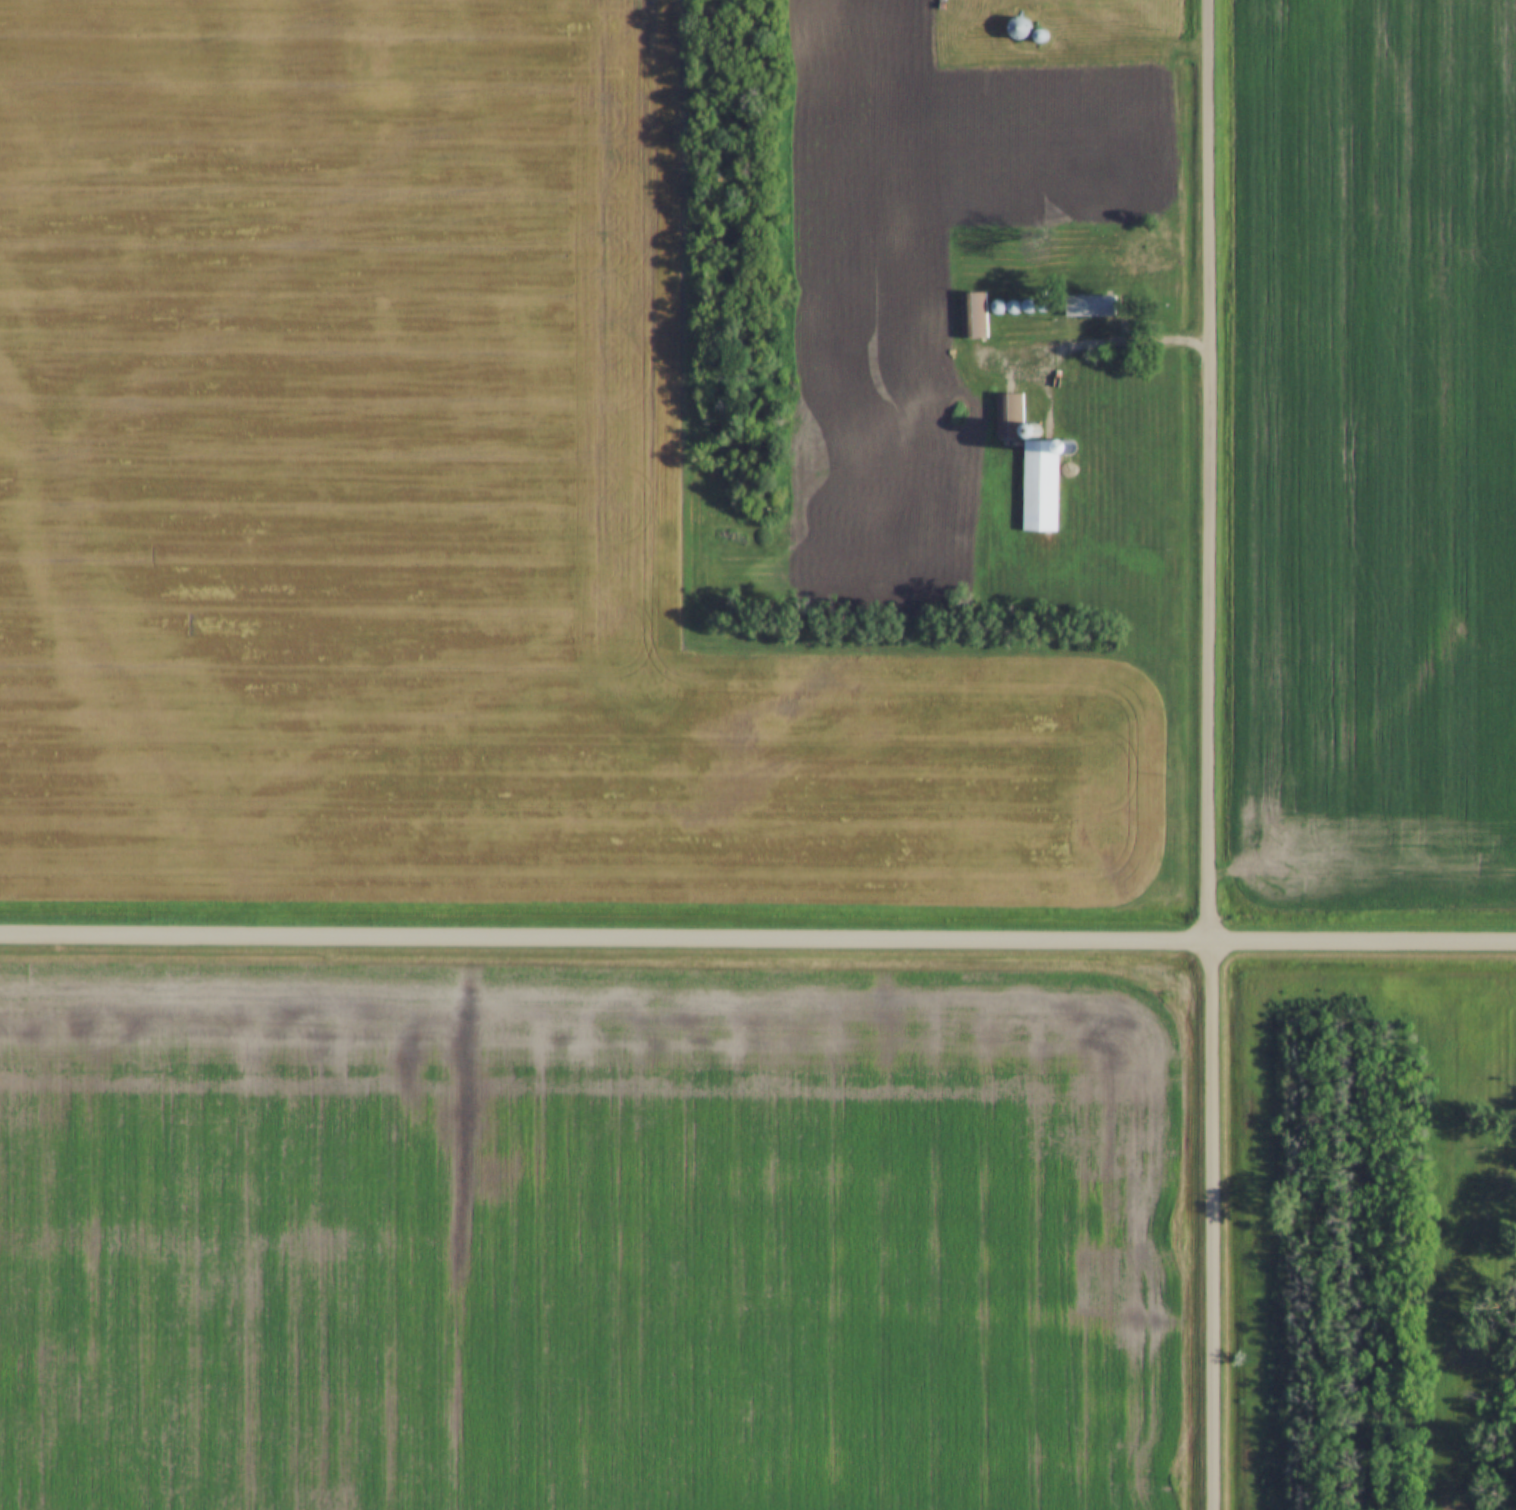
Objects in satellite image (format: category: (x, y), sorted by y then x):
building: (1019, 28)
building: (1090, 305)
road: (1097, 344)
building: (1030, 463)
road: (1212, 754)
road: (758, 940)

